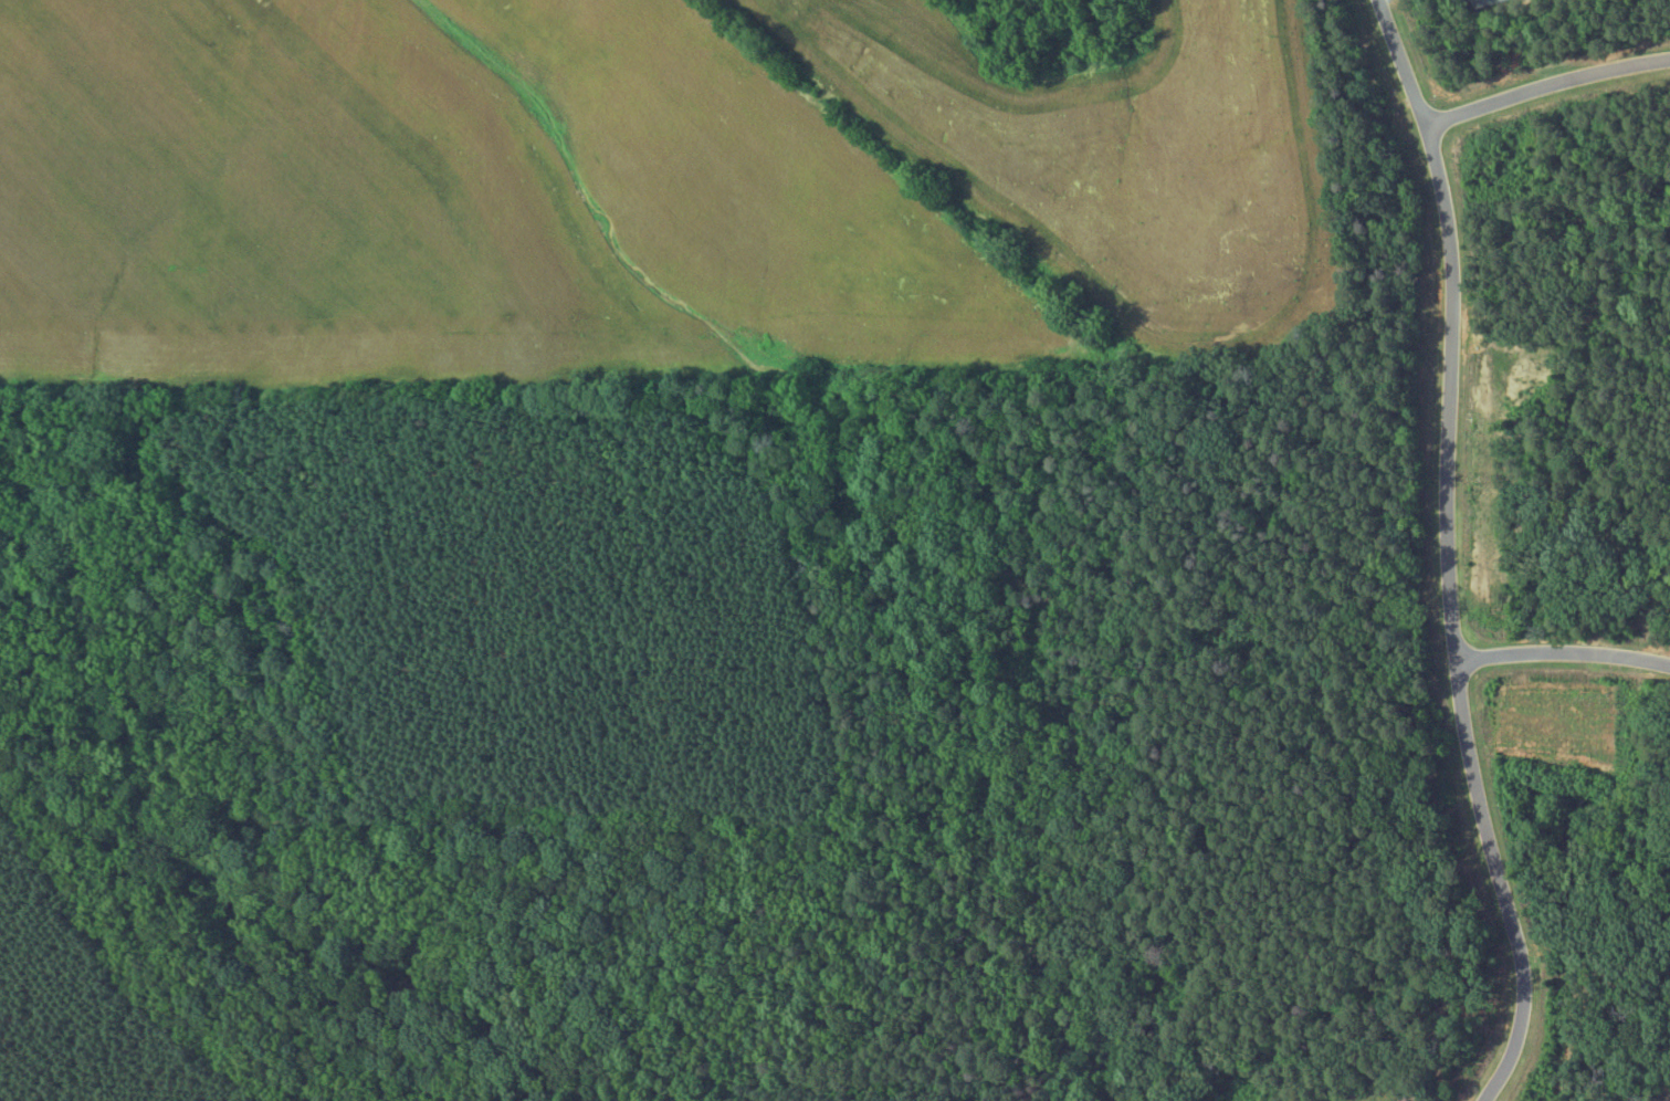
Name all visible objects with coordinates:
road: (1545, 87)
road: (1447, 553)
road: (1563, 653)

